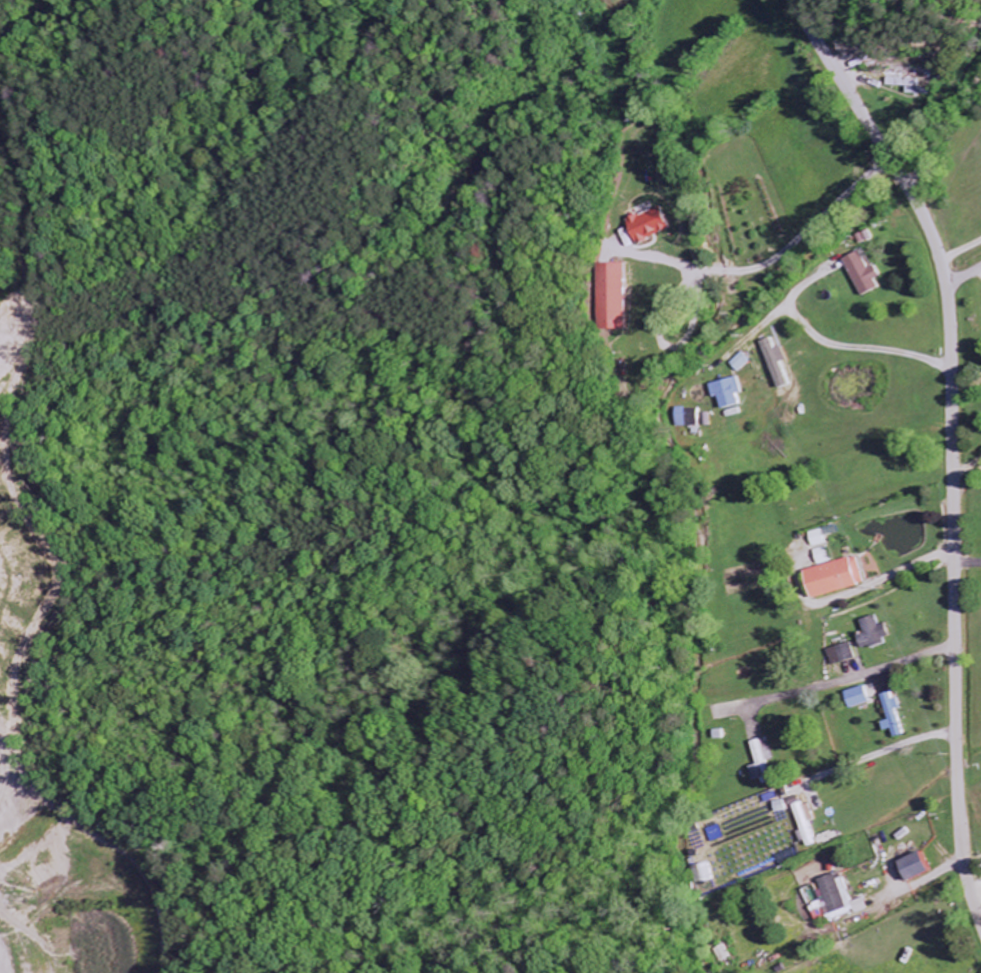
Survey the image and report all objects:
road: (859, 28)
building: (913, 86)
building: (652, 226)
road: (961, 253)
building: (867, 275)
road: (964, 276)
road: (757, 332)
road: (831, 345)
landfill: (10, 351)
building: (743, 362)
building: (730, 394)
road: (953, 439)
building: (825, 536)
road: (967, 540)
building: (825, 556)
building: (839, 578)
building: (876, 634)
building: (843, 655)
road: (844, 682)
building: (895, 714)
landfill: (56, 823)
building: (807, 824)
building: (919, 868)
road: (12, 955)

